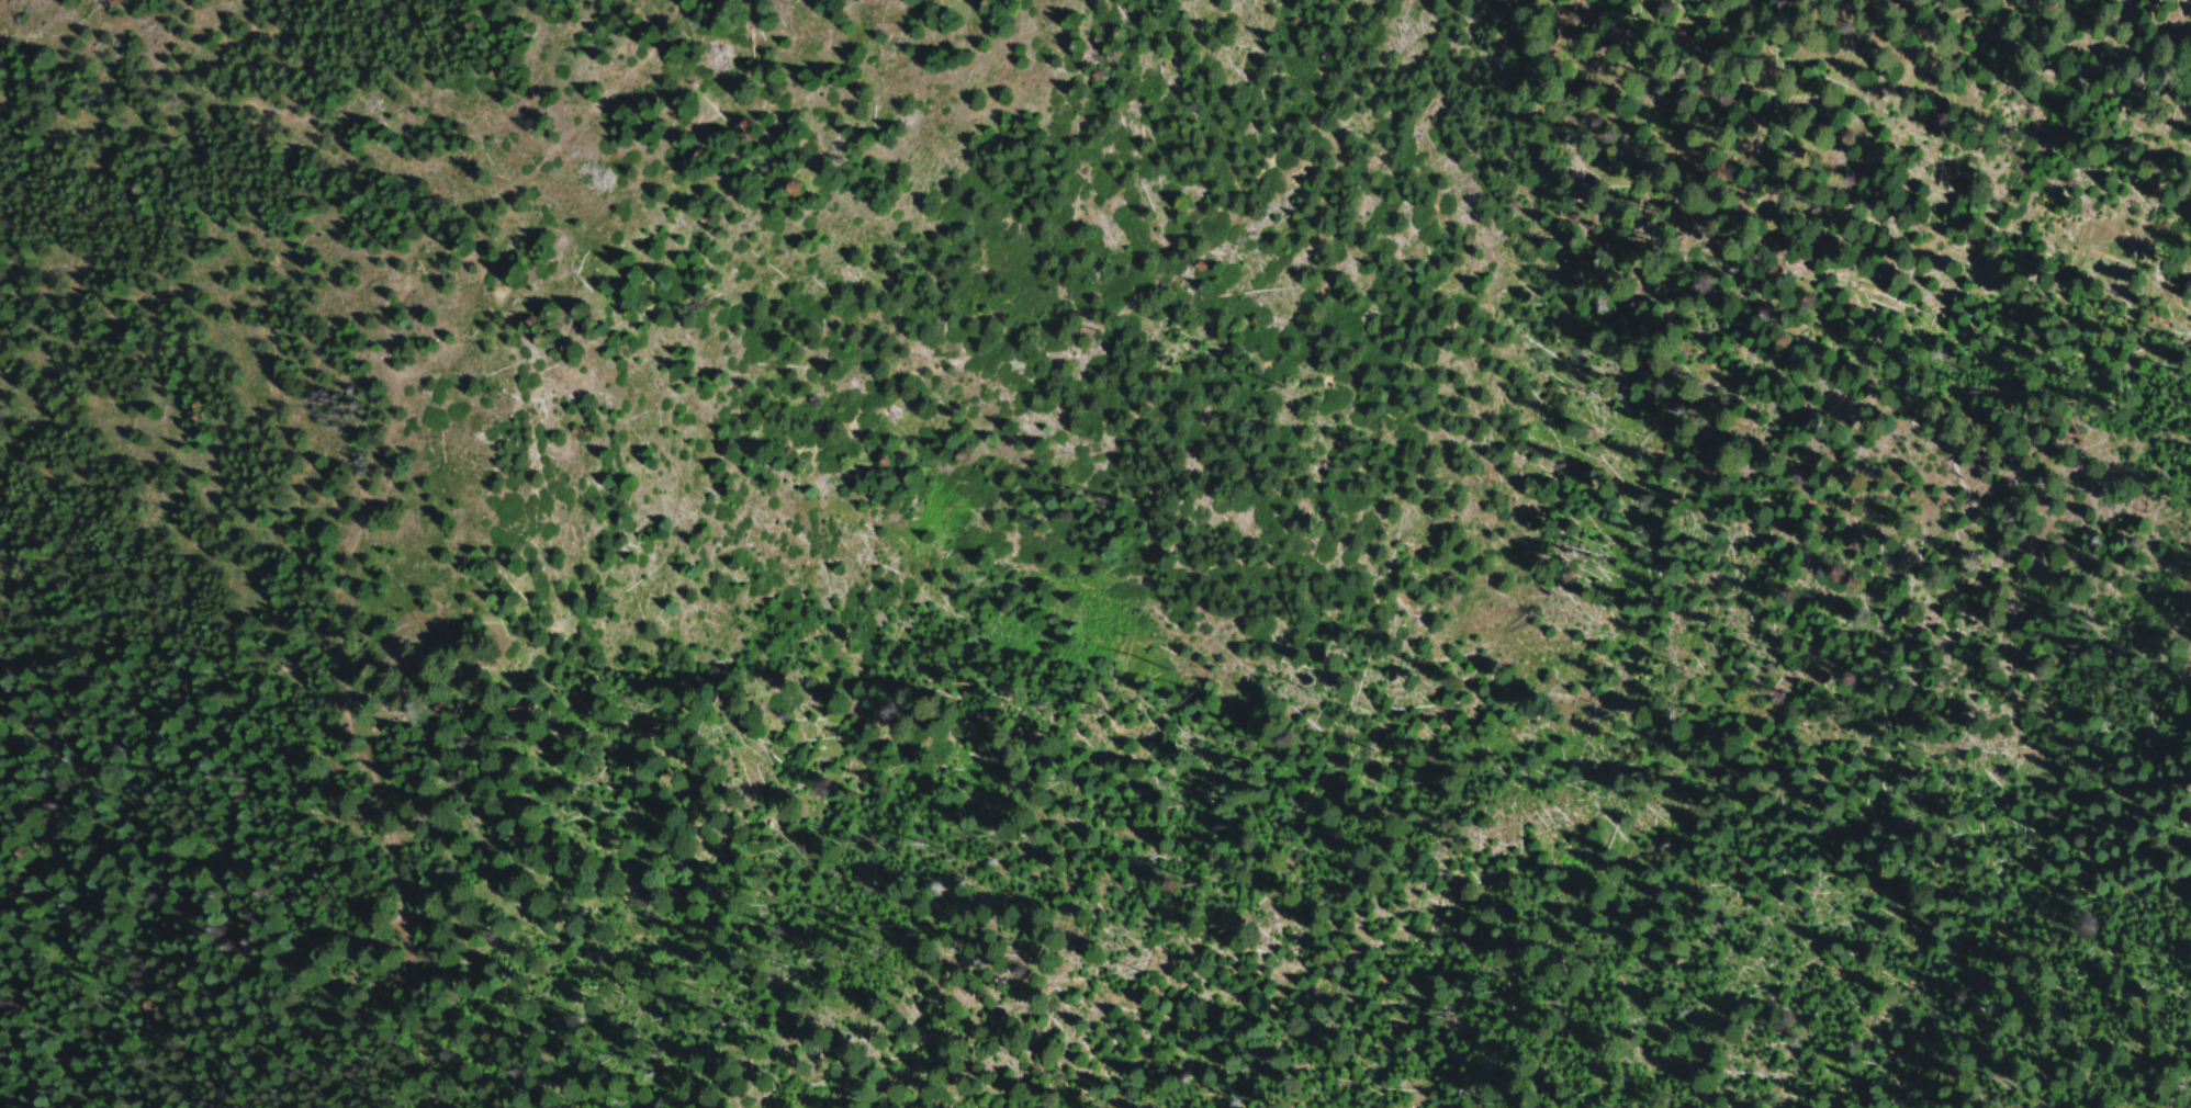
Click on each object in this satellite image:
road: (333, 508)

